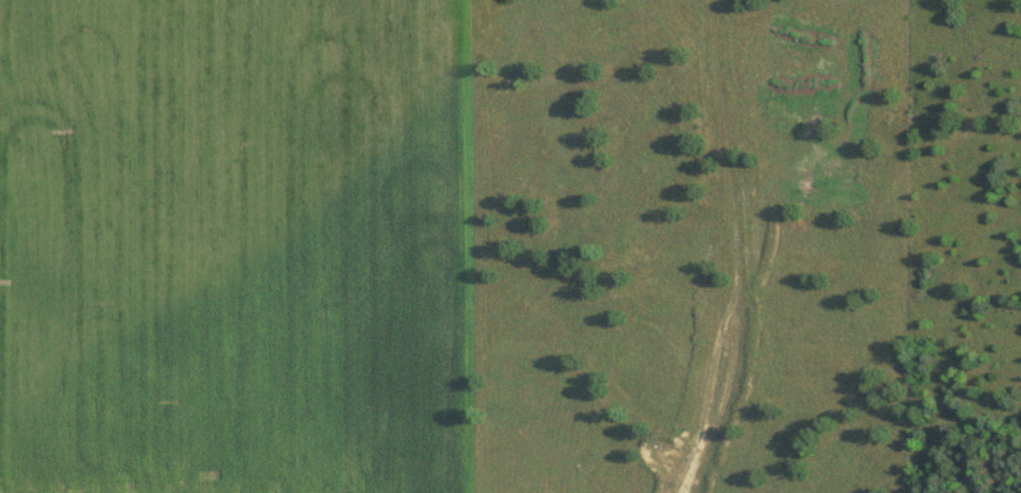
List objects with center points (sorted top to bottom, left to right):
crop: (214, 232)

